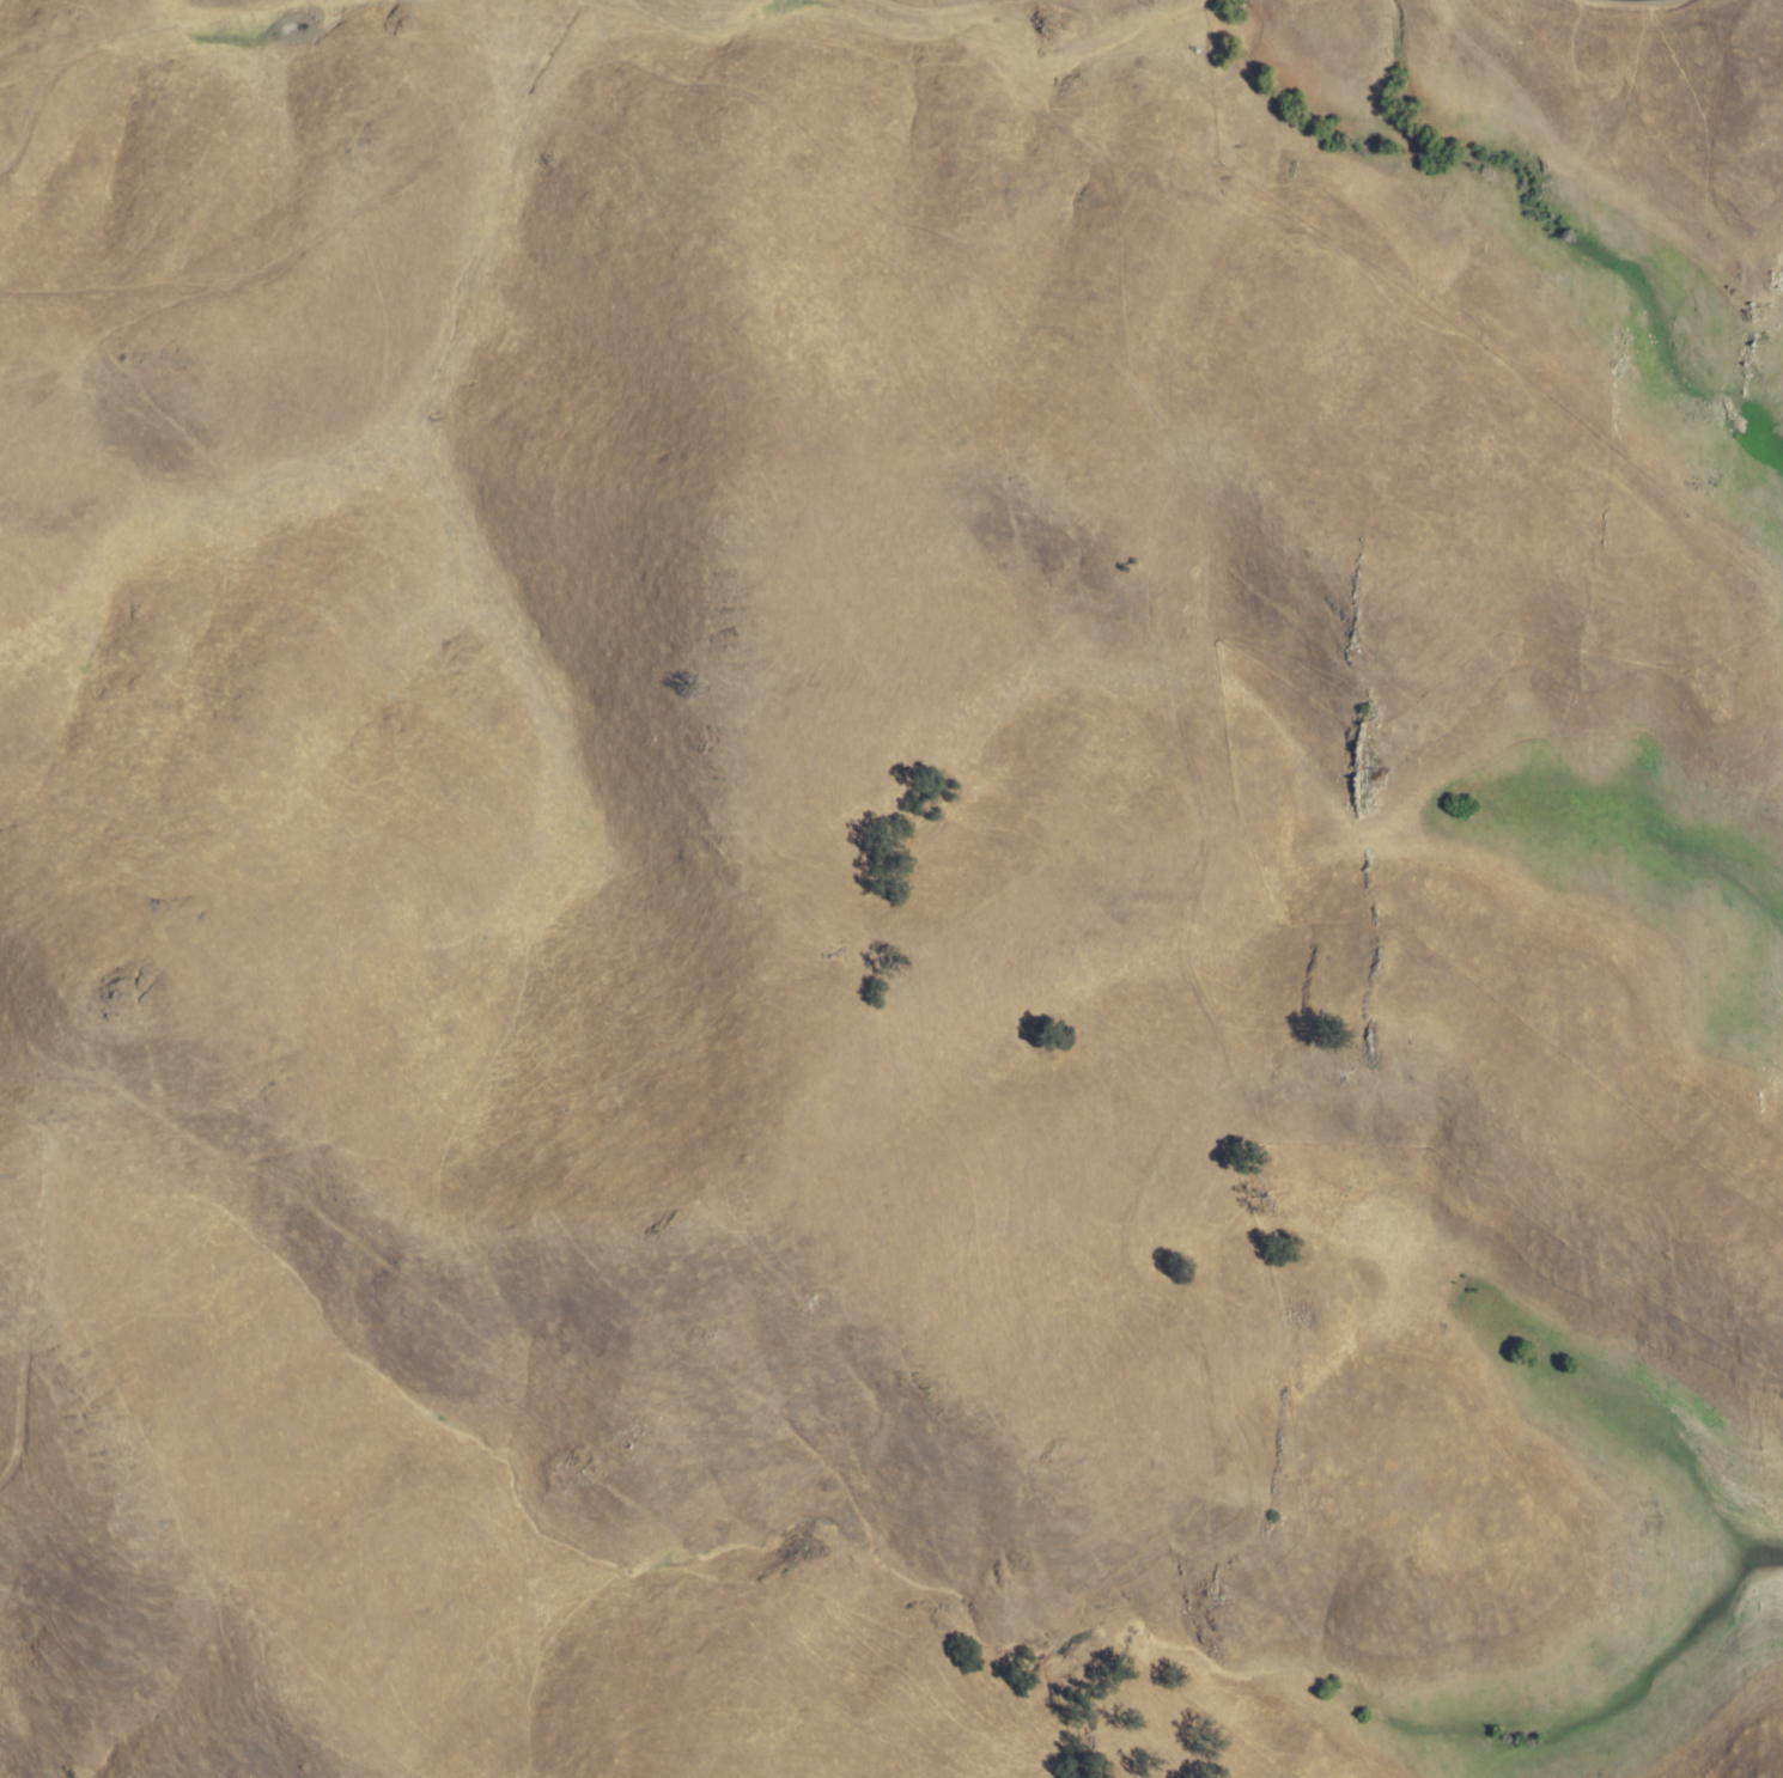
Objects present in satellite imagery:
park: (1717, 599)
park: (1501, 1506)

